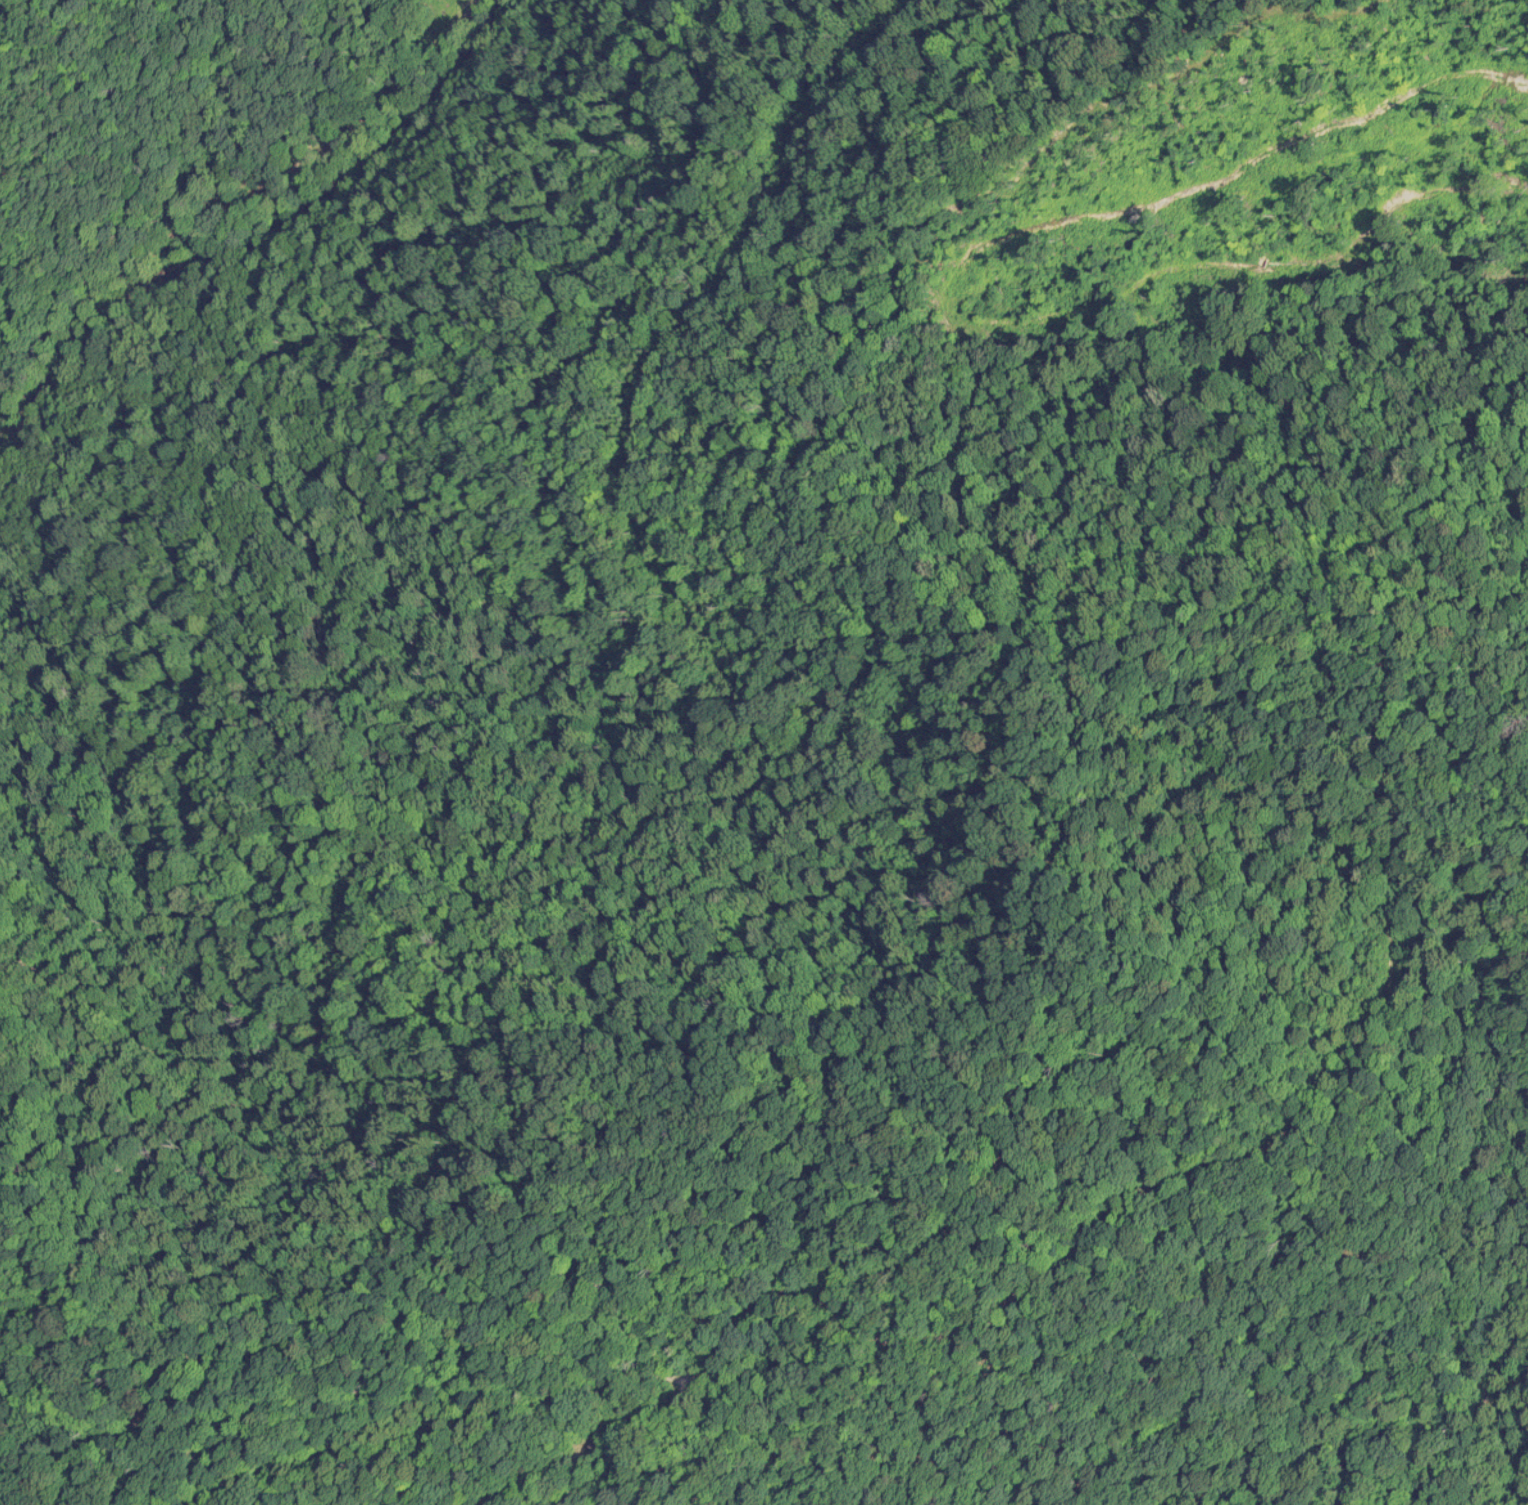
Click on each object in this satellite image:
road: (244, 194)

